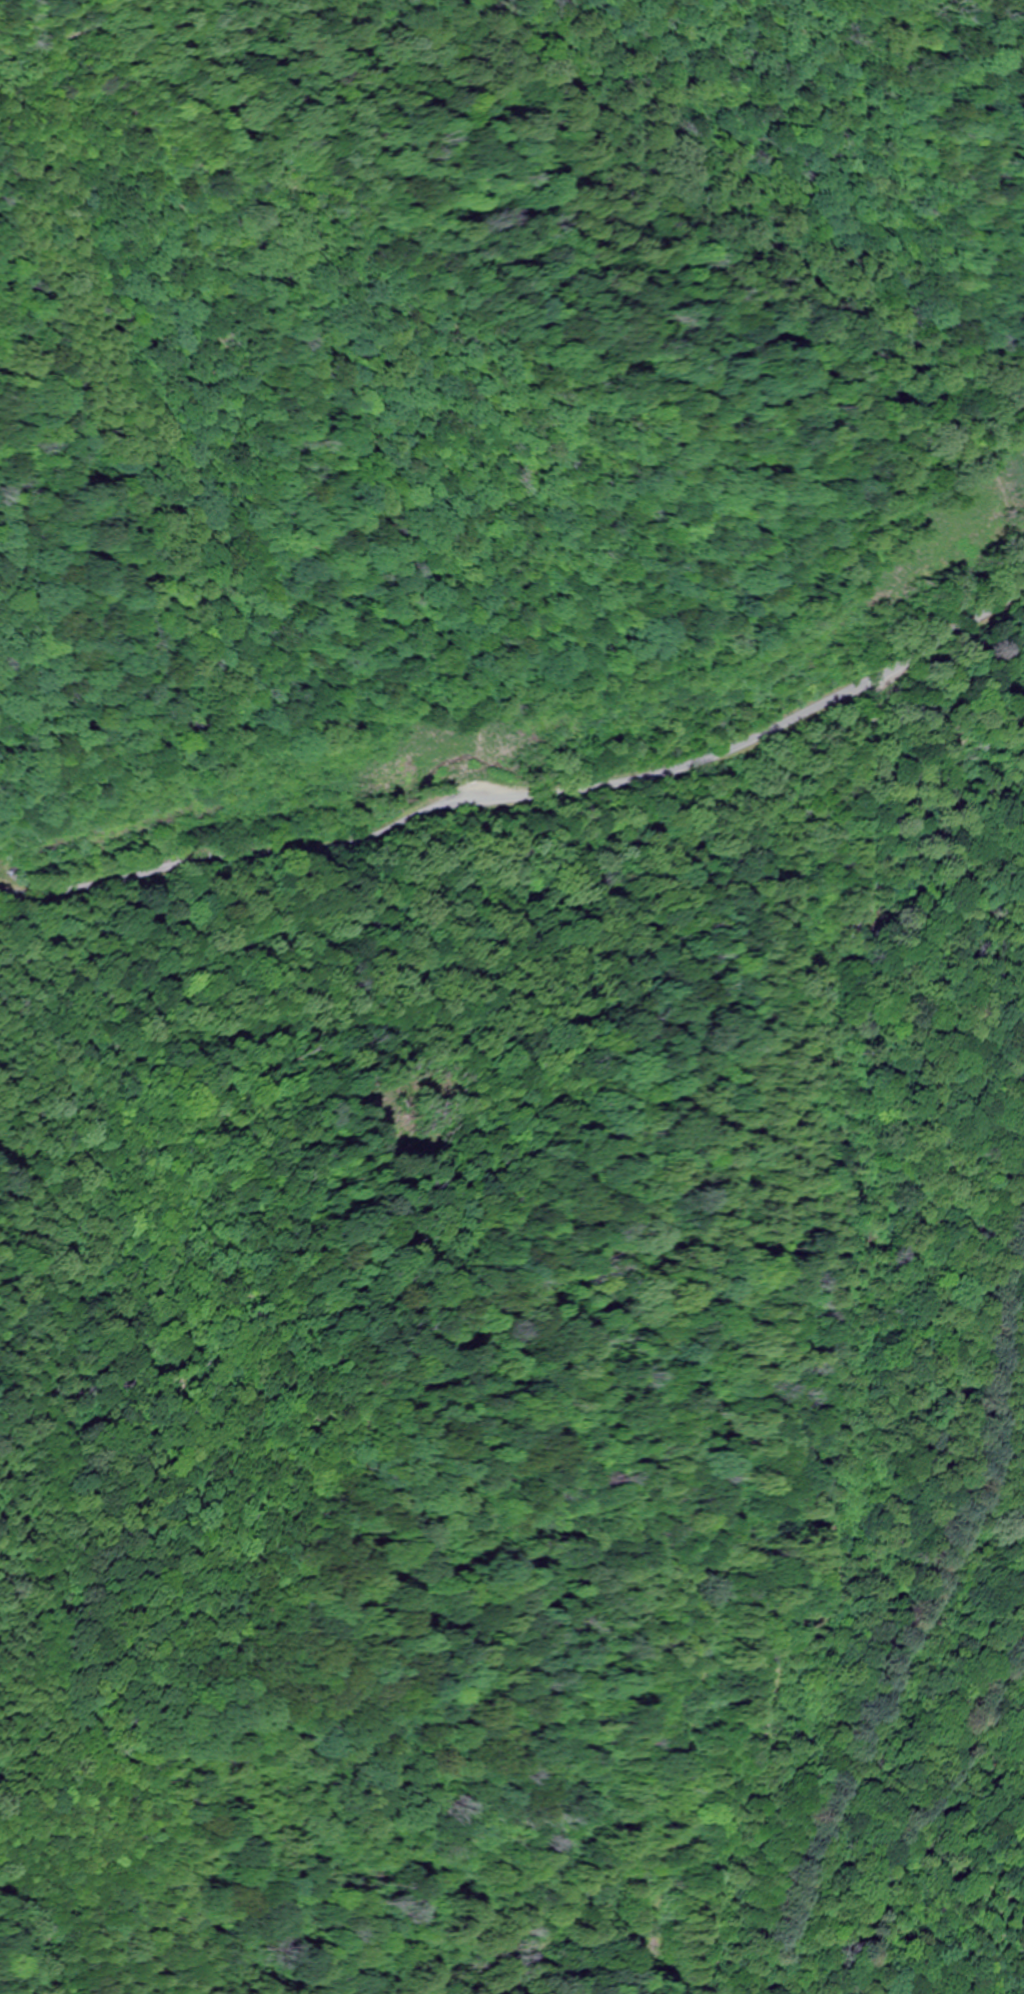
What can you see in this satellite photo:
road: (61, 74)
road: (527, 791)
road: (826, 1343)
road: (59, 1908)

